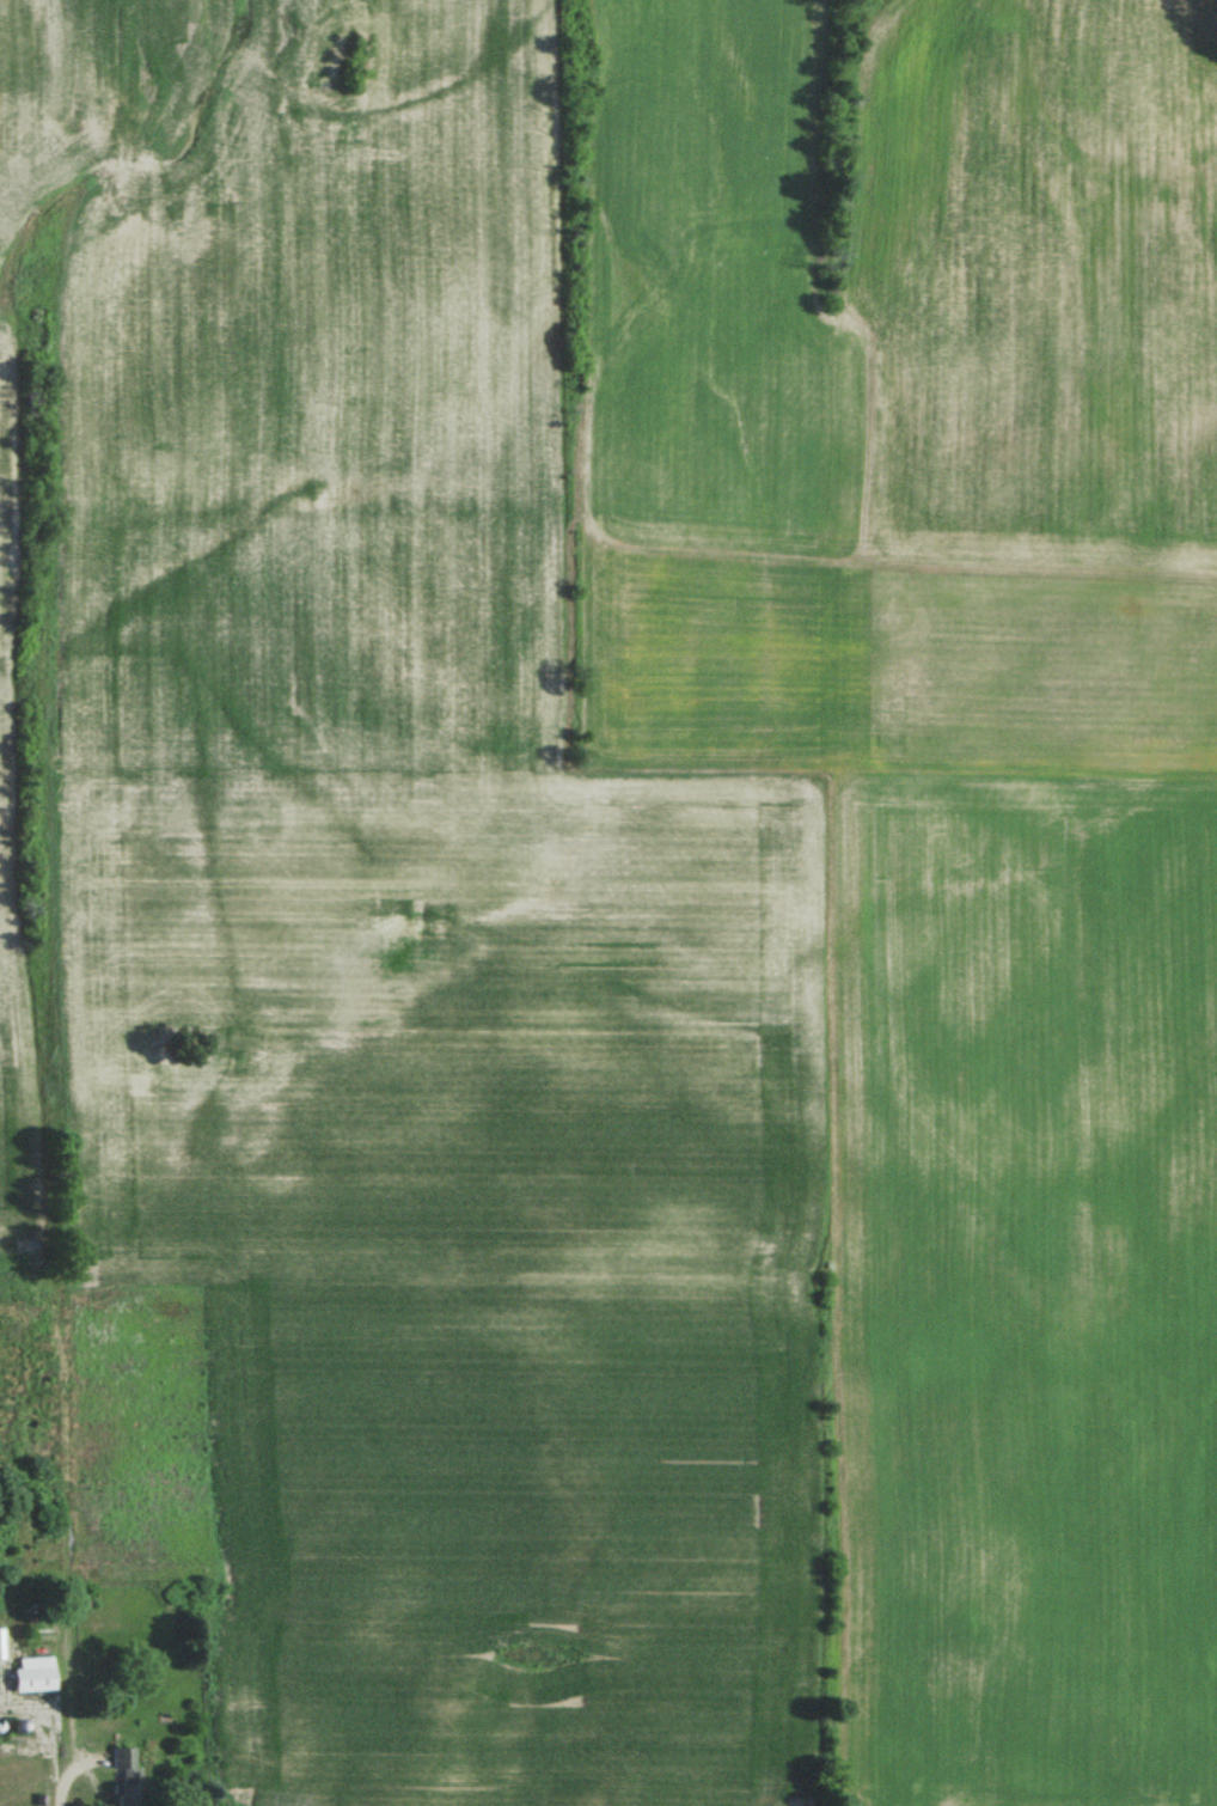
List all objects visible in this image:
building: (2, 1642)
building: (38, 1672)
building: (123, 1756)

